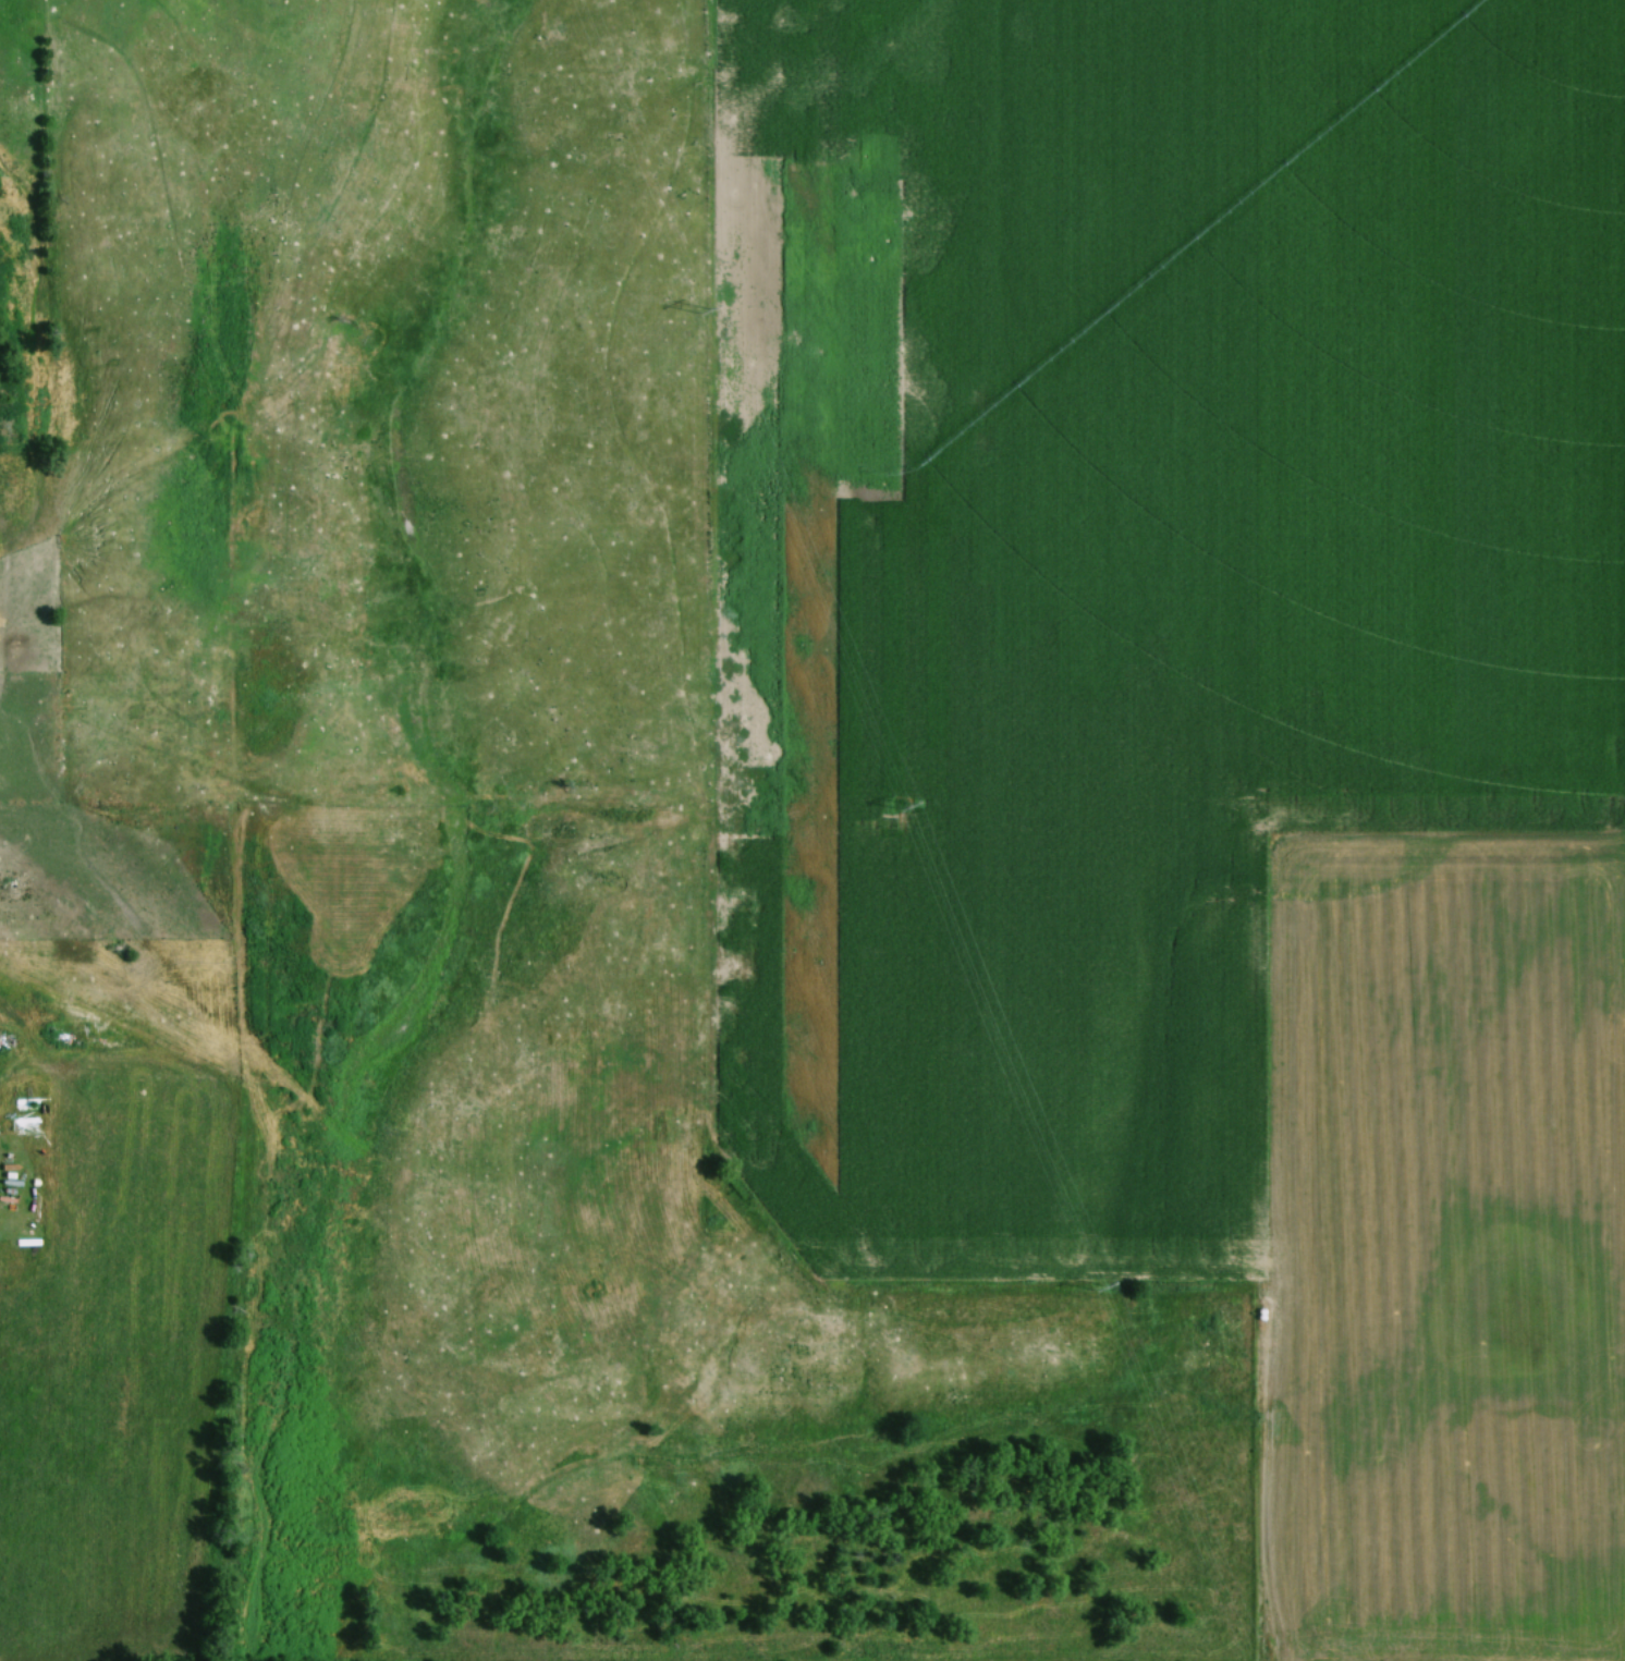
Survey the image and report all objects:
power tower: (701, 312)
power tower: (901, 805)
power tower: (1096, 1287)

